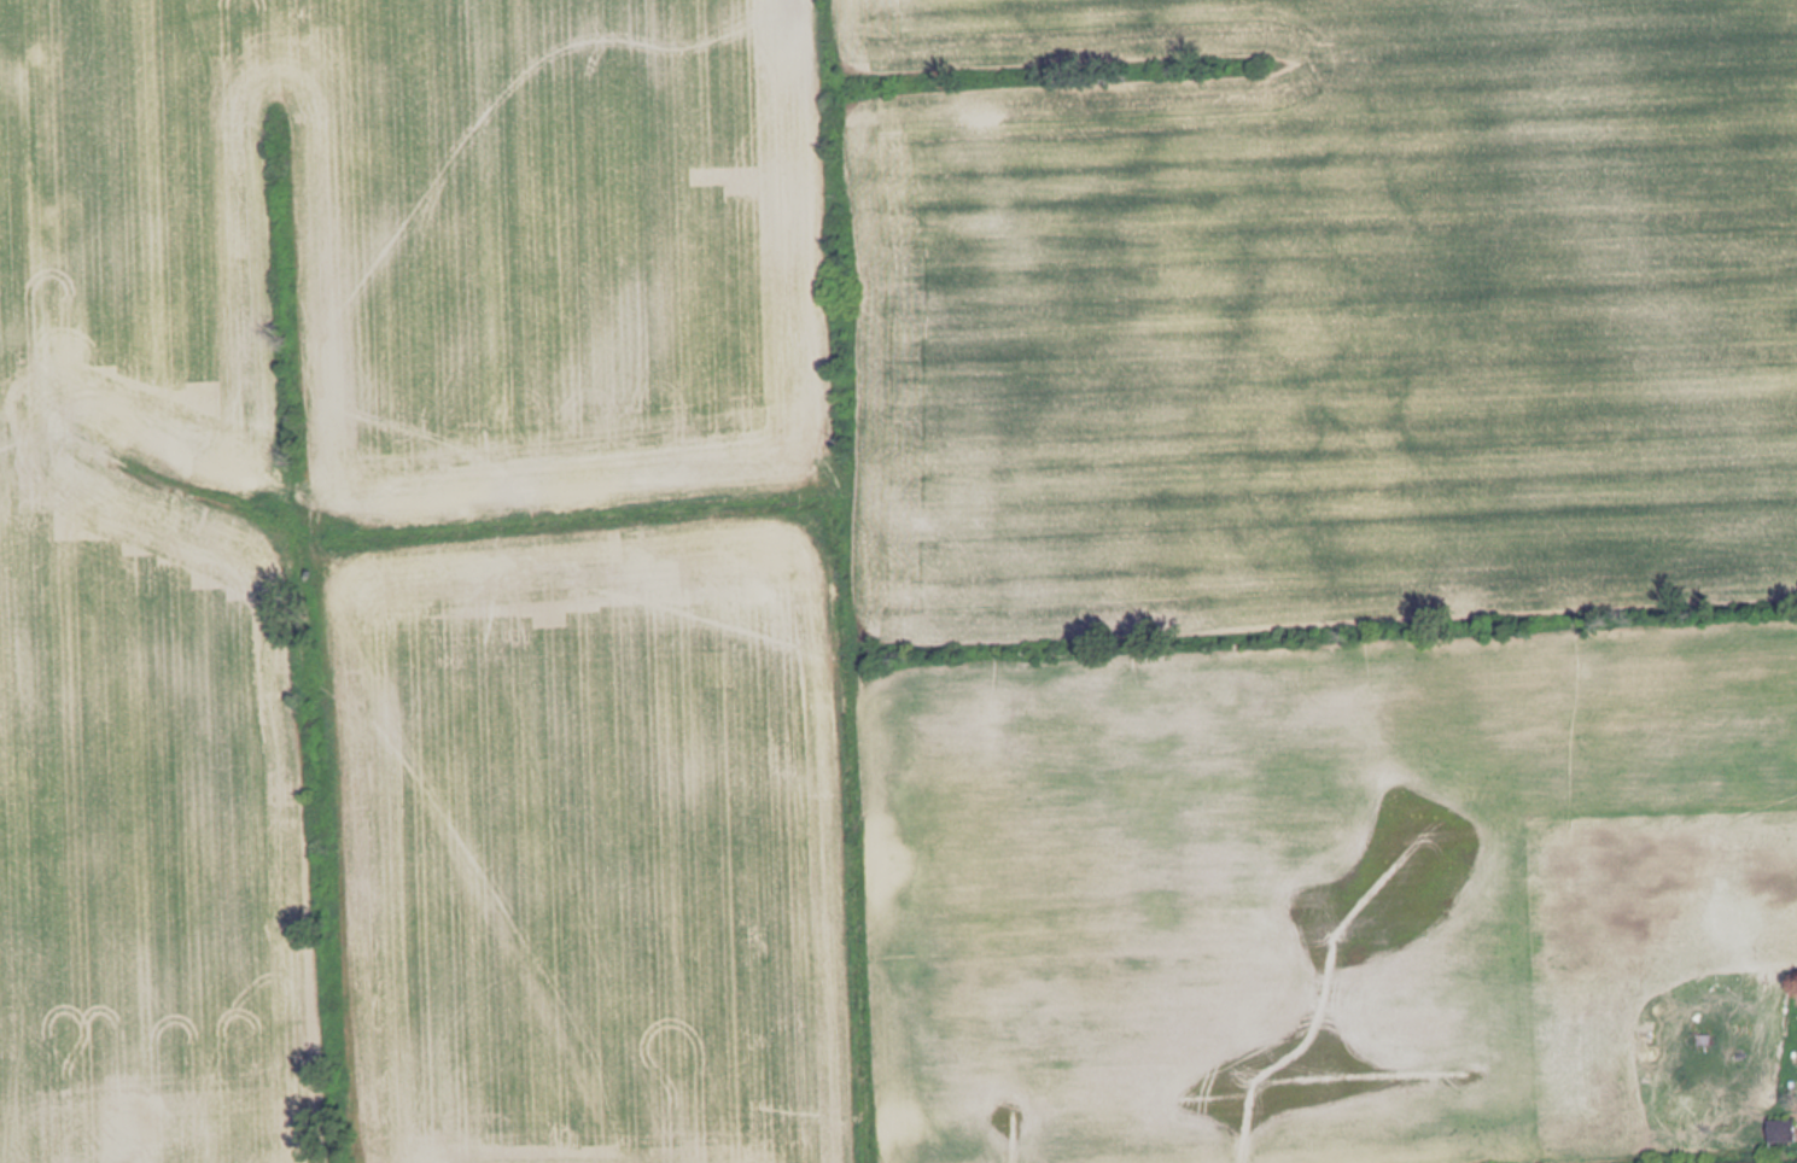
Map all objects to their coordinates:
building: (1779, 1128)

